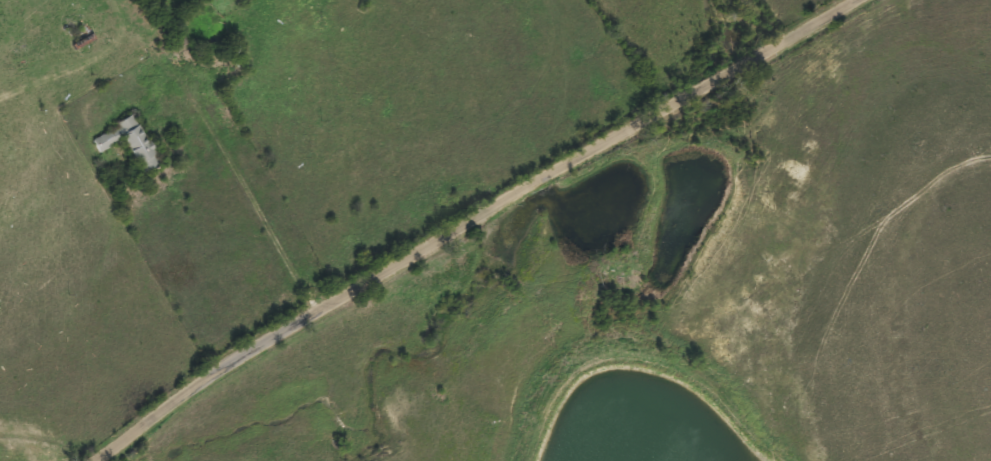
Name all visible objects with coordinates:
building: (126, 142)
road: (253, 199)
road: (478, 220)

